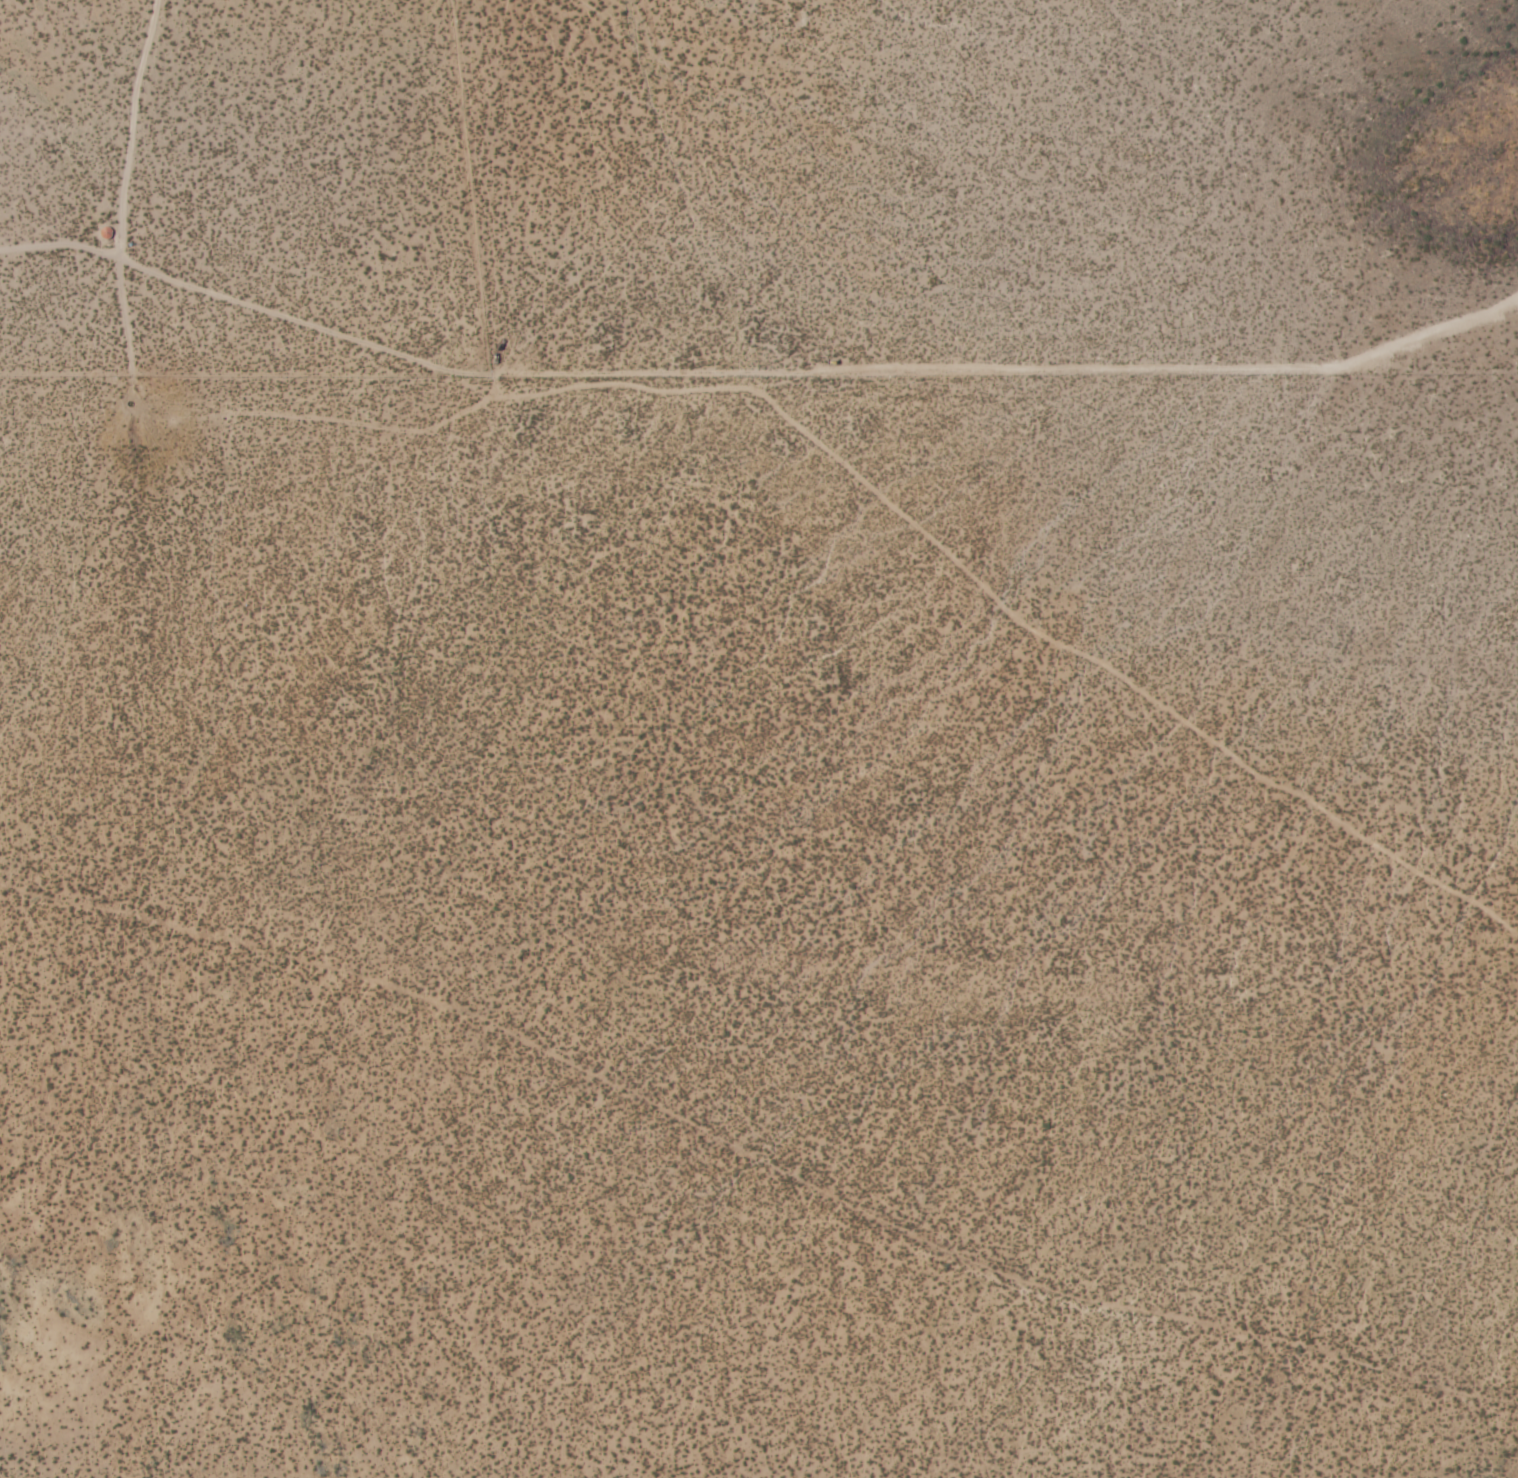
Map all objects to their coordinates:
road: (142, 122)
road: (757, 366)

